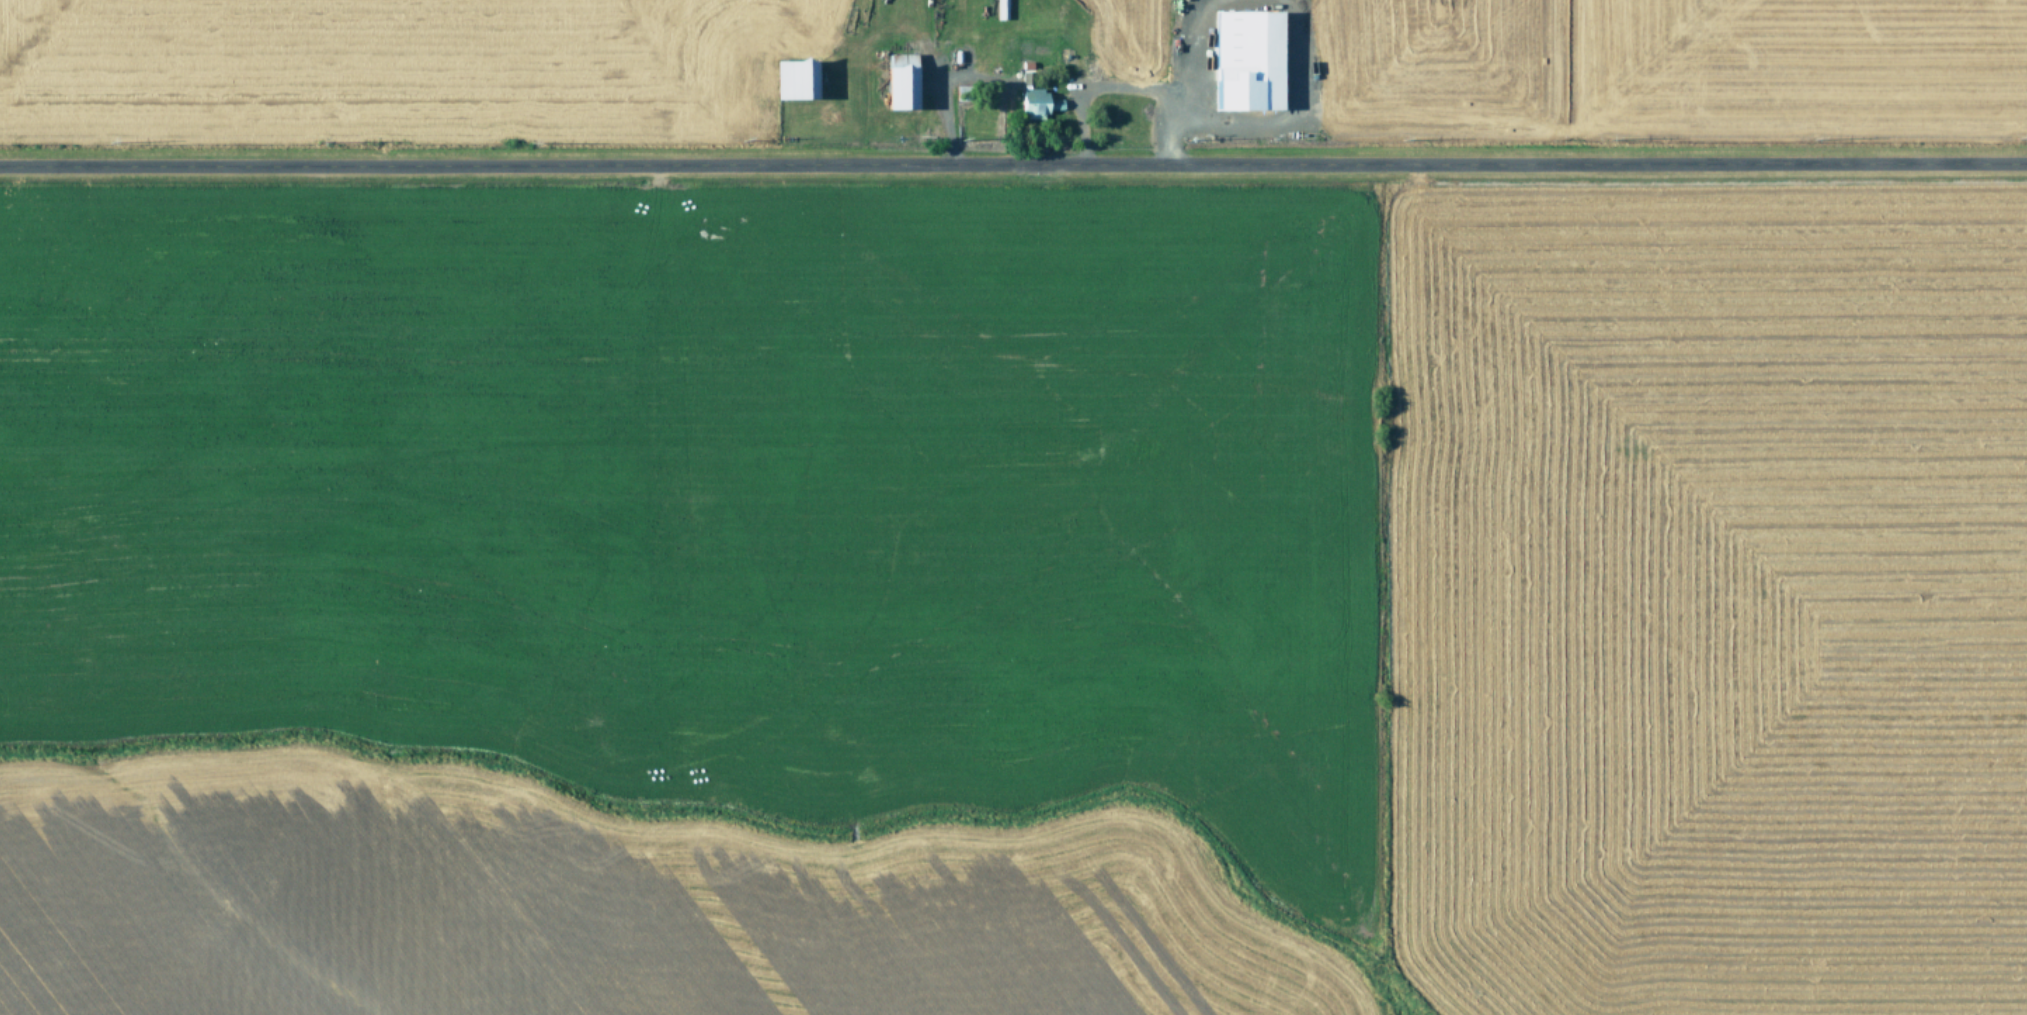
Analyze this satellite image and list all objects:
building: (996, 9)
building: (1233, 60)
building: (891, 87)
building: (1027, 102)
road: (1013, 143)
crop: (1013, 507)

